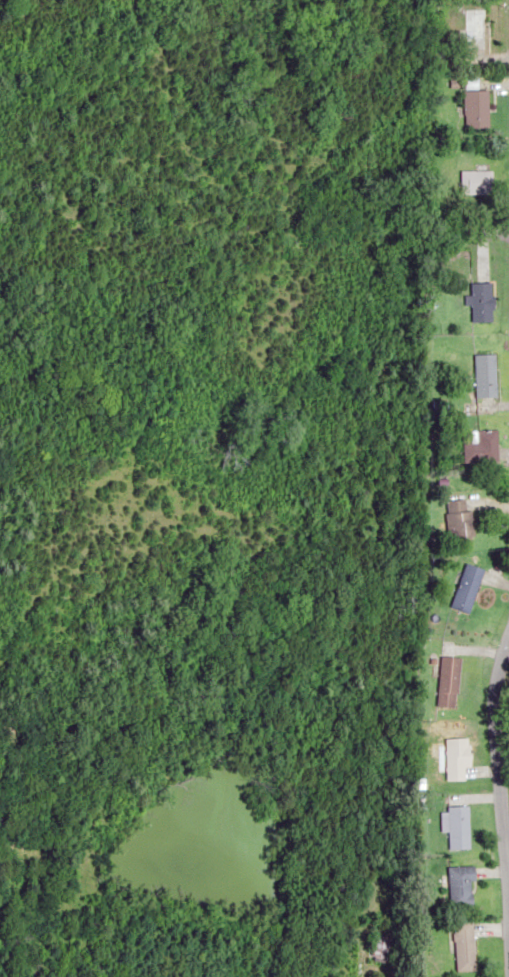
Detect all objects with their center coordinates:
building: (475, 29)
building: (474, 108)
building: (474, 181)
building: (480, 301)
building: (483, 375)
building: (481, 447)
building: (457, 519)
building: (465, 586)
road: (507, 649)
building: (449, 675)
road: (500, 750)
building: (458, 757)
building: (458, 826)
road: (507, 863)
building: (460, 885)
road: (507, 919)
building: (463, 945)
building: (378, 948)

